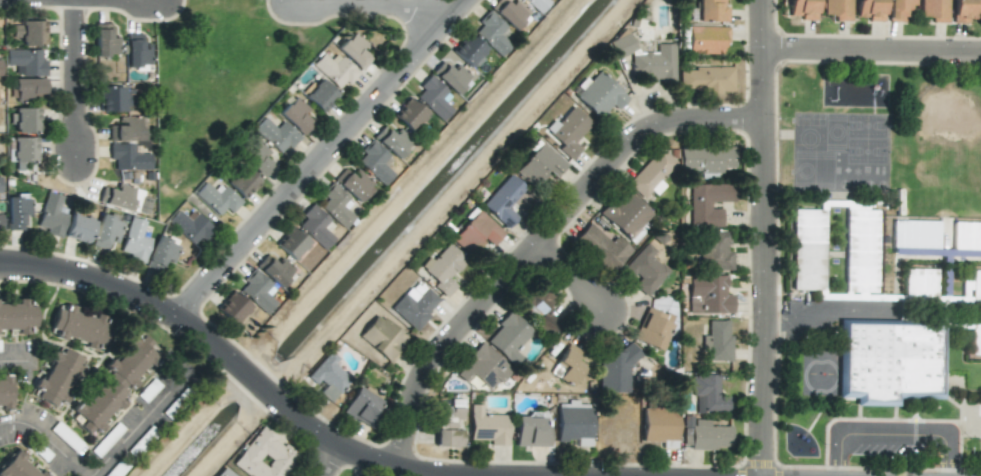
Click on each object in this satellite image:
road: (116, 1)
building: (538, 4)
road: (371, 9)
building: (803, 9)
building: (838, 9)
building: (898, 9)
building: (870, 10)
building: (934, 10)
building: (964, 10)
building: (711, 11)
building: (512, 14)
building: (30, 32)
building: (492, 33)
building: (706, 39)
building: (104, 41)
building: (622, 46)
building: (353, 50)
building: (469, 51)
building: (138, 53)
road: (871, 53)
building: (26, 62)
building: (654, 64)
building: (0, 68)
building: (334, 69)
building: (451, 77)
building: (705, 79)
road: (72, 81)
building: (28, 88)
building: (319, 95)
building: (434, 97)
building: (114, 99)
building: (409, 114)
building: (295, 115)
building: (24, 120)
building: (125, 129)
building: (568, 131)
building: (276, 135)
building: (392, 141)
building: (25, 149)
building: (128, 157)
building: (256, 158)
road: (318, 158)
building: (708, 160)
building: (375, 162)
building: (540, 164)
building: (651, 174)
building: (242, 181)
building: (354, 185)
building: (0, 191)
building: (217, 198)
building: (125, 199)
building: (503, 201)
building: (707, 203)
building: (337, 205)
building: (17, 212)
building: (51, 215)
building: (626, 215)
building: (0, 222)
building: (190, 226)
building: (79, 228)
building: (106, 233)
building: (475, 233)
building: (914, 233)
road: (763, 238)
building: (967, 238)
building: (135, 240)
road: (538, 241)
building: (292, 243)
building: (602, 247)
building: (808, 249)
building: (162, 253)
building: (858, 257)
building: (443, 269)
building: (645, 269)
building: (275, 271)
road: (566, 280)
building: (919, 285)
building: (975, 286)
building: (258, 291)
building: (708, 295)
building: (415, 305)
building: (233, 307)
building: (539, 309)
building: (17, 317)
building: (79, 327)
building: (652, 328)
building: (382, 337)
building: (508, 337)
building: (975, 339)
building: (717, 341)
road: (14, 357)
road: (230, 359)
building: (890, 362)
building: (568, 365)
building: (482, 368)
building: (614, 370)
building: (58, 376)
building: (328, 377)
building: (114, 384)
building: (4, 391)
building: (708, 395)
building: (361, 406)
road: (143, 422)
building: (573, 422)
building: (659, 424)
building: (488, 426)
road: (891, 429)
building: (531, 432)
building: (705, 434)
road: (46, 438)
building: (265, 456)
road: (330, 459)
building: (18, 467)
building: (223, 473)

